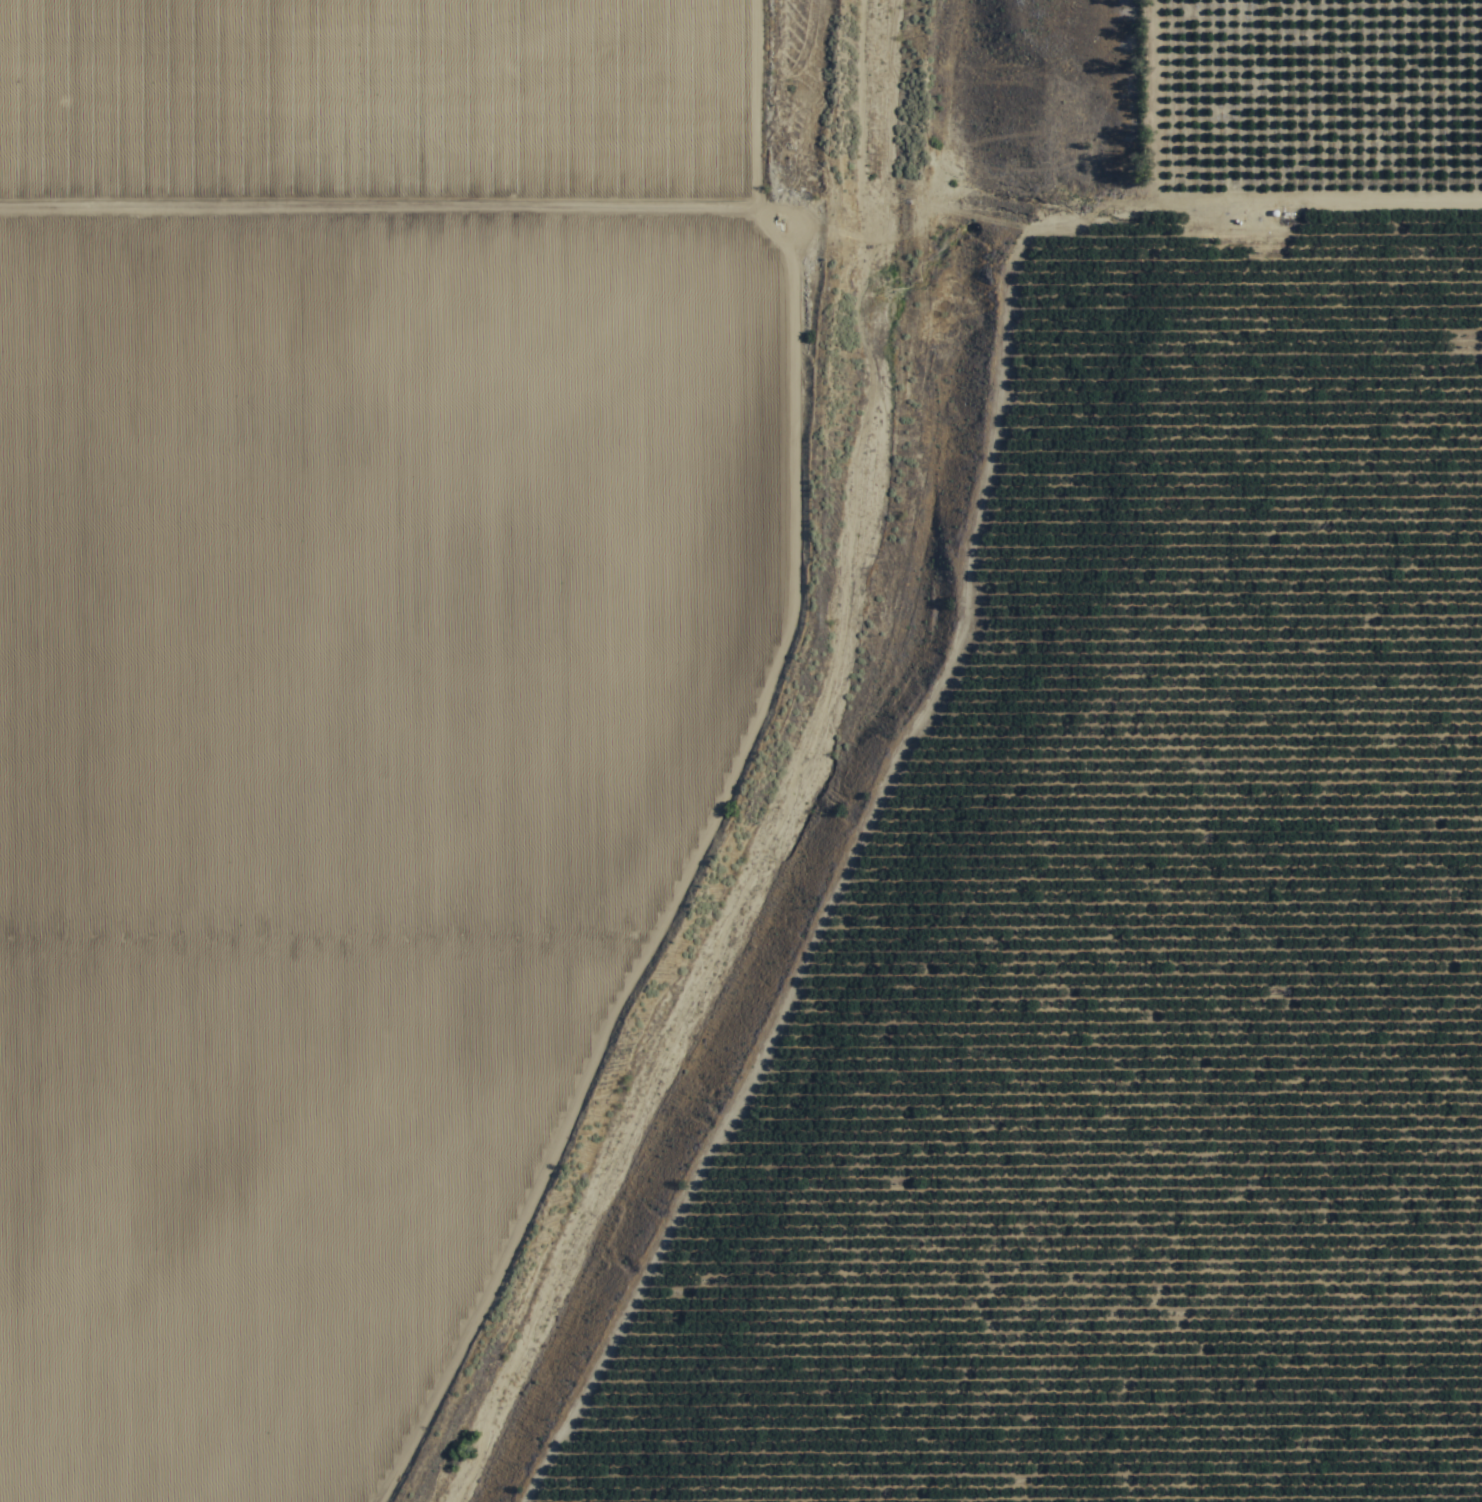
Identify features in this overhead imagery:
road: (741, 198)
crop: (350, 678)
road: (741, 860)
crop: (1144, 882)

